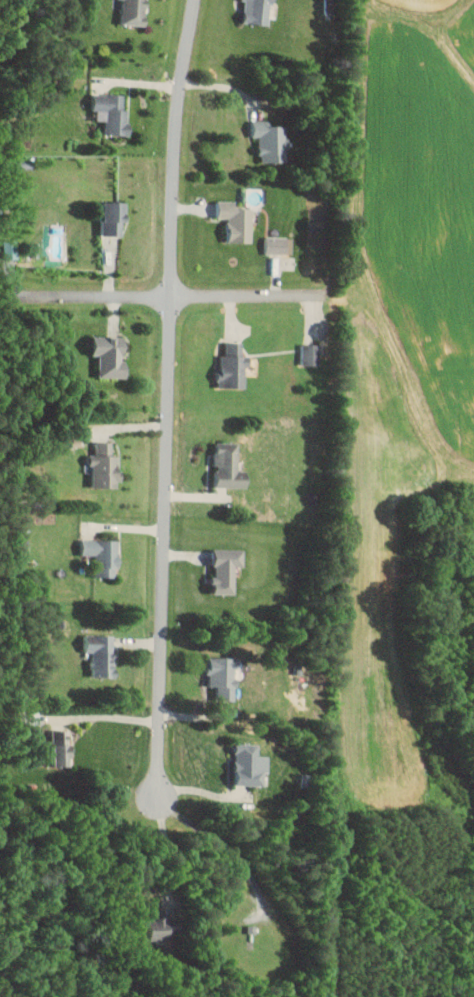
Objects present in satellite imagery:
building: (135, 12)
building: (259, 12)
road: (229, 87)
building: (112, 112)
building: (271, 141)
building: (114, 218)
building: (237, 220)
building: (277, 245)
road: (173, 298)
building: (310, 354)
building: (112, 356)
building: (234, 367)
road: (167, 400)
building: (106, 467)
building: (229, 467)
building: (103, 554)
building: (227, 568)
building: (102, 652)
building: (223, 675)
road: (105, 716)
building: (62, 748)
building: (250, 764)
road: (205, 790)
road: (227, 843)
road: (167, 851)
building: (162, 927)

